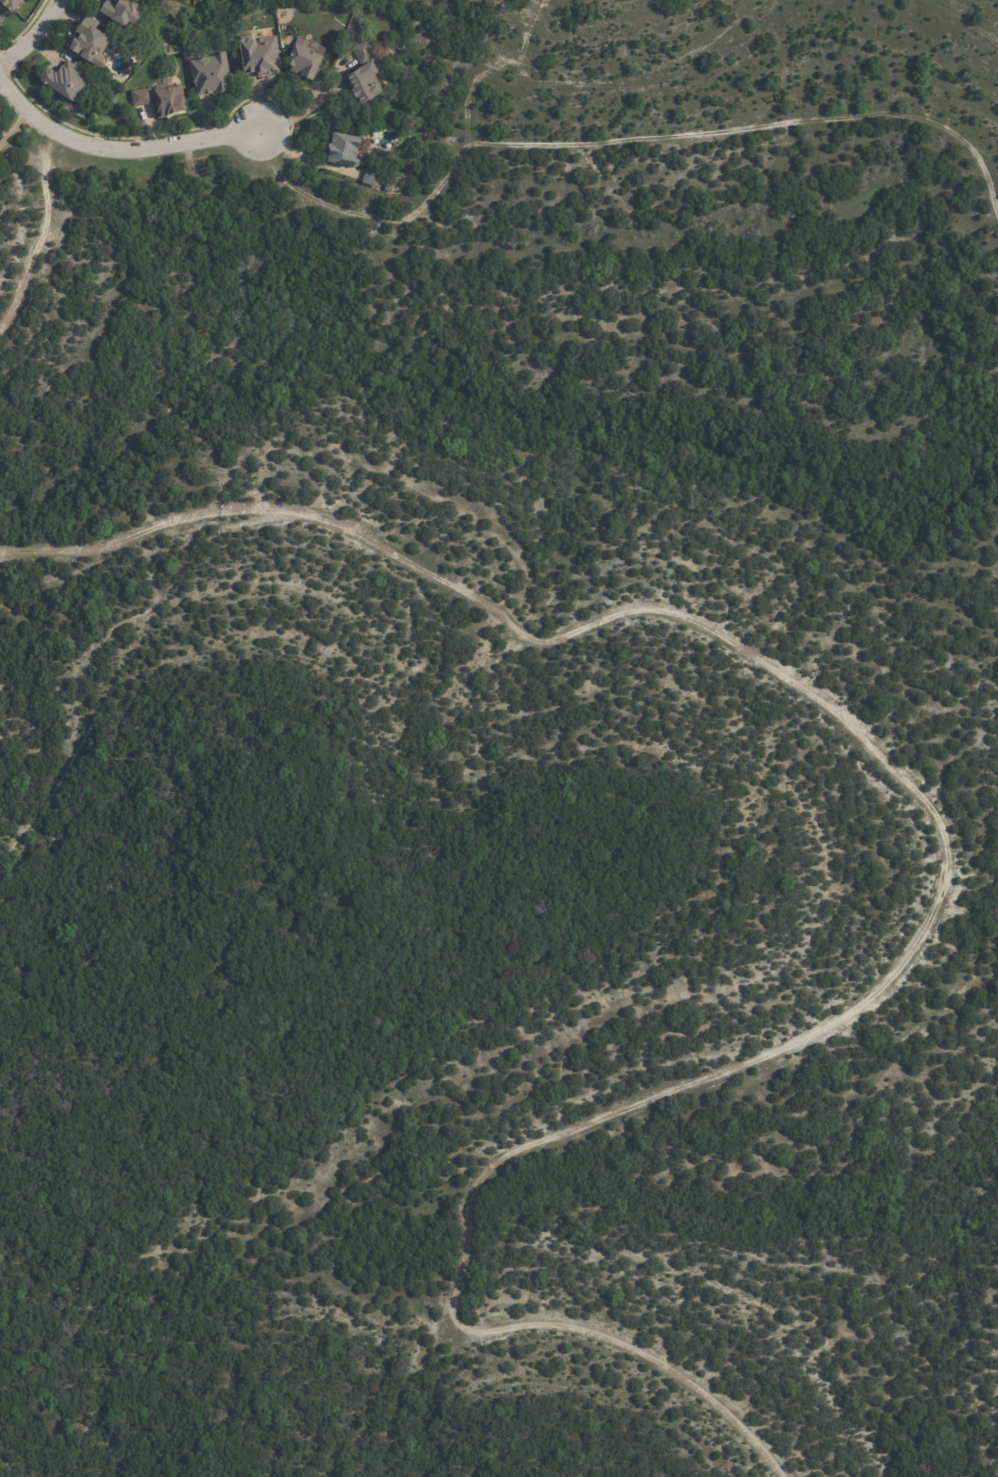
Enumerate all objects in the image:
building: (15, 3)
building: (120, 13)
road: (32, 35)
building: (89, 41)
building: (256, 55)
building: (301, 62)
building: (209, 74)
building: (363, 74)
building: (65, 81)
building: (160, 100)
road: (134, 150)
building: (354, 159)
road: (42, 234)
road: (949, 869)

